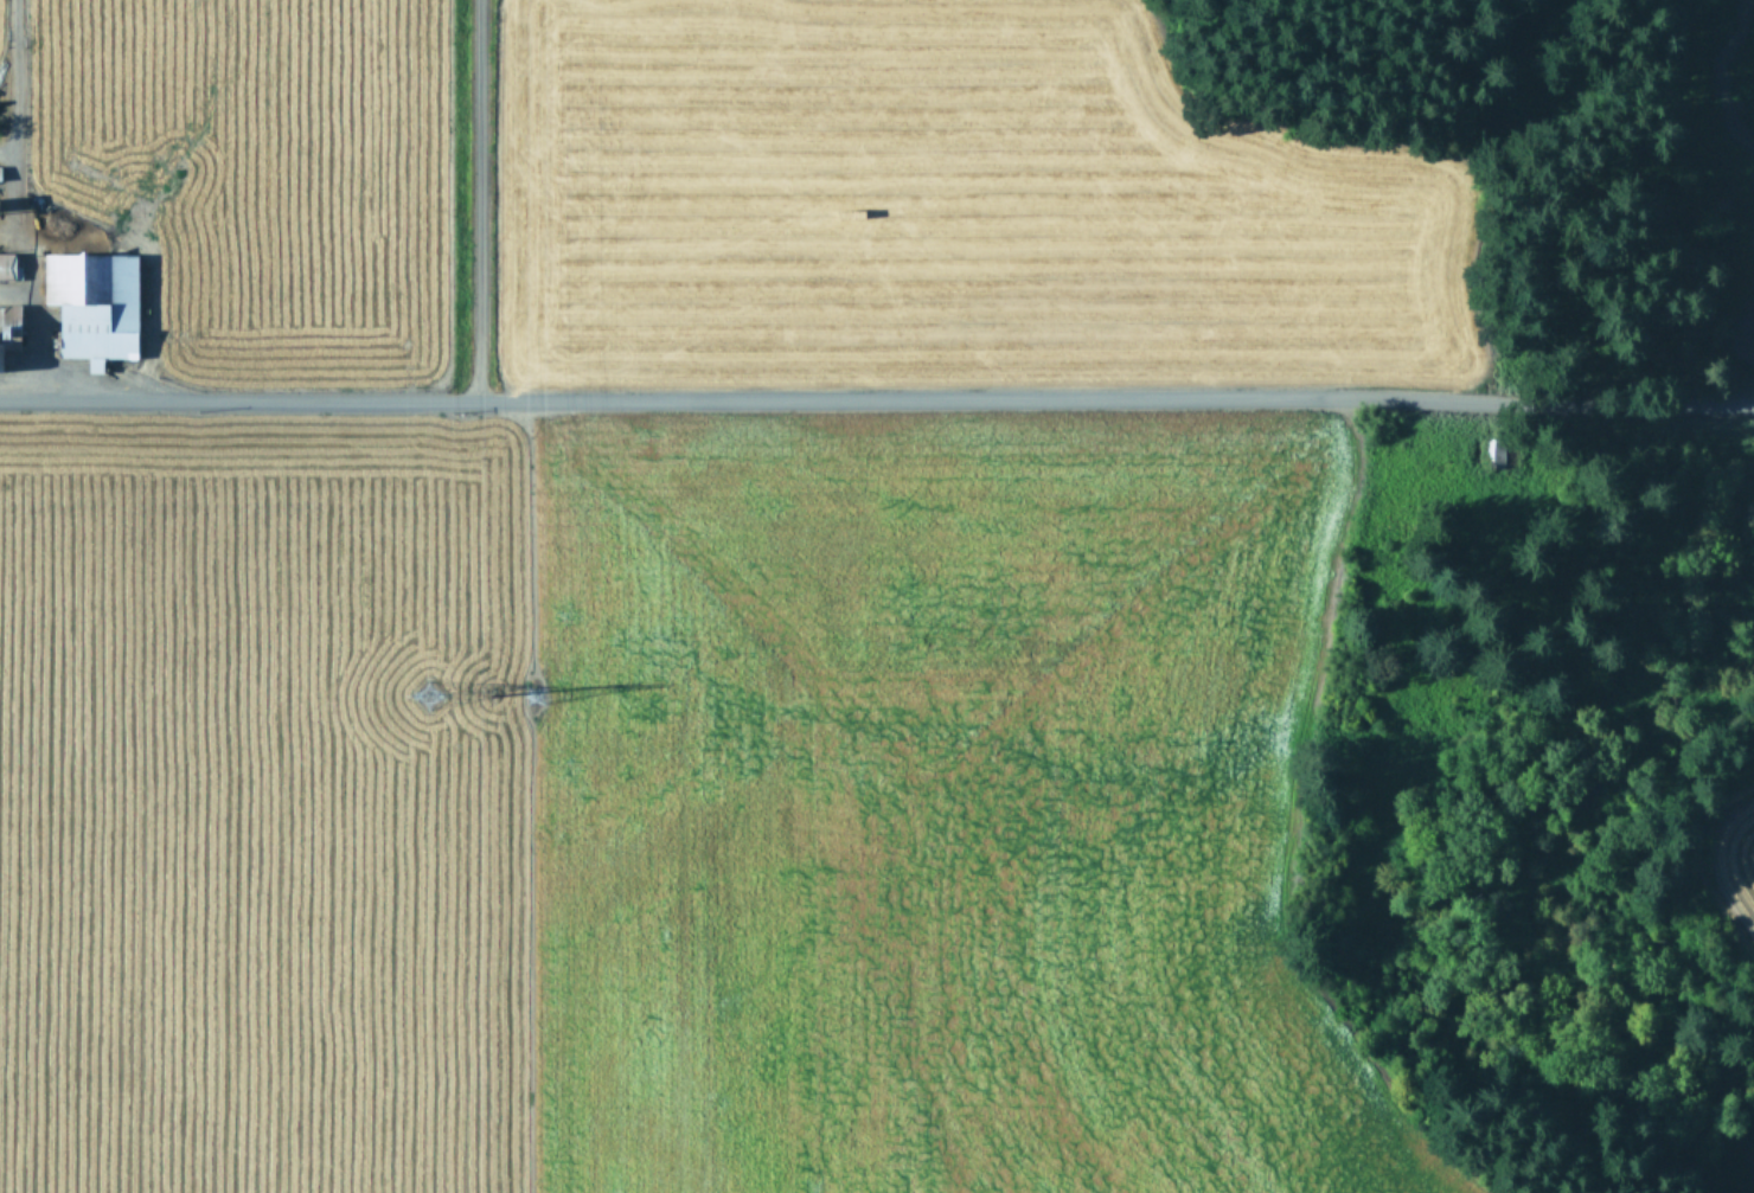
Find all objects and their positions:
building: (0, 178)
road: (475, 199)
road: (30, 263)
building: (7, 264)
road: (14, 290)
building: (92, 303)
building: (8, 323)
road: (877, 397)
crop: (680, 604)
power tower: (421, 689)
power tower: (491, 693)

